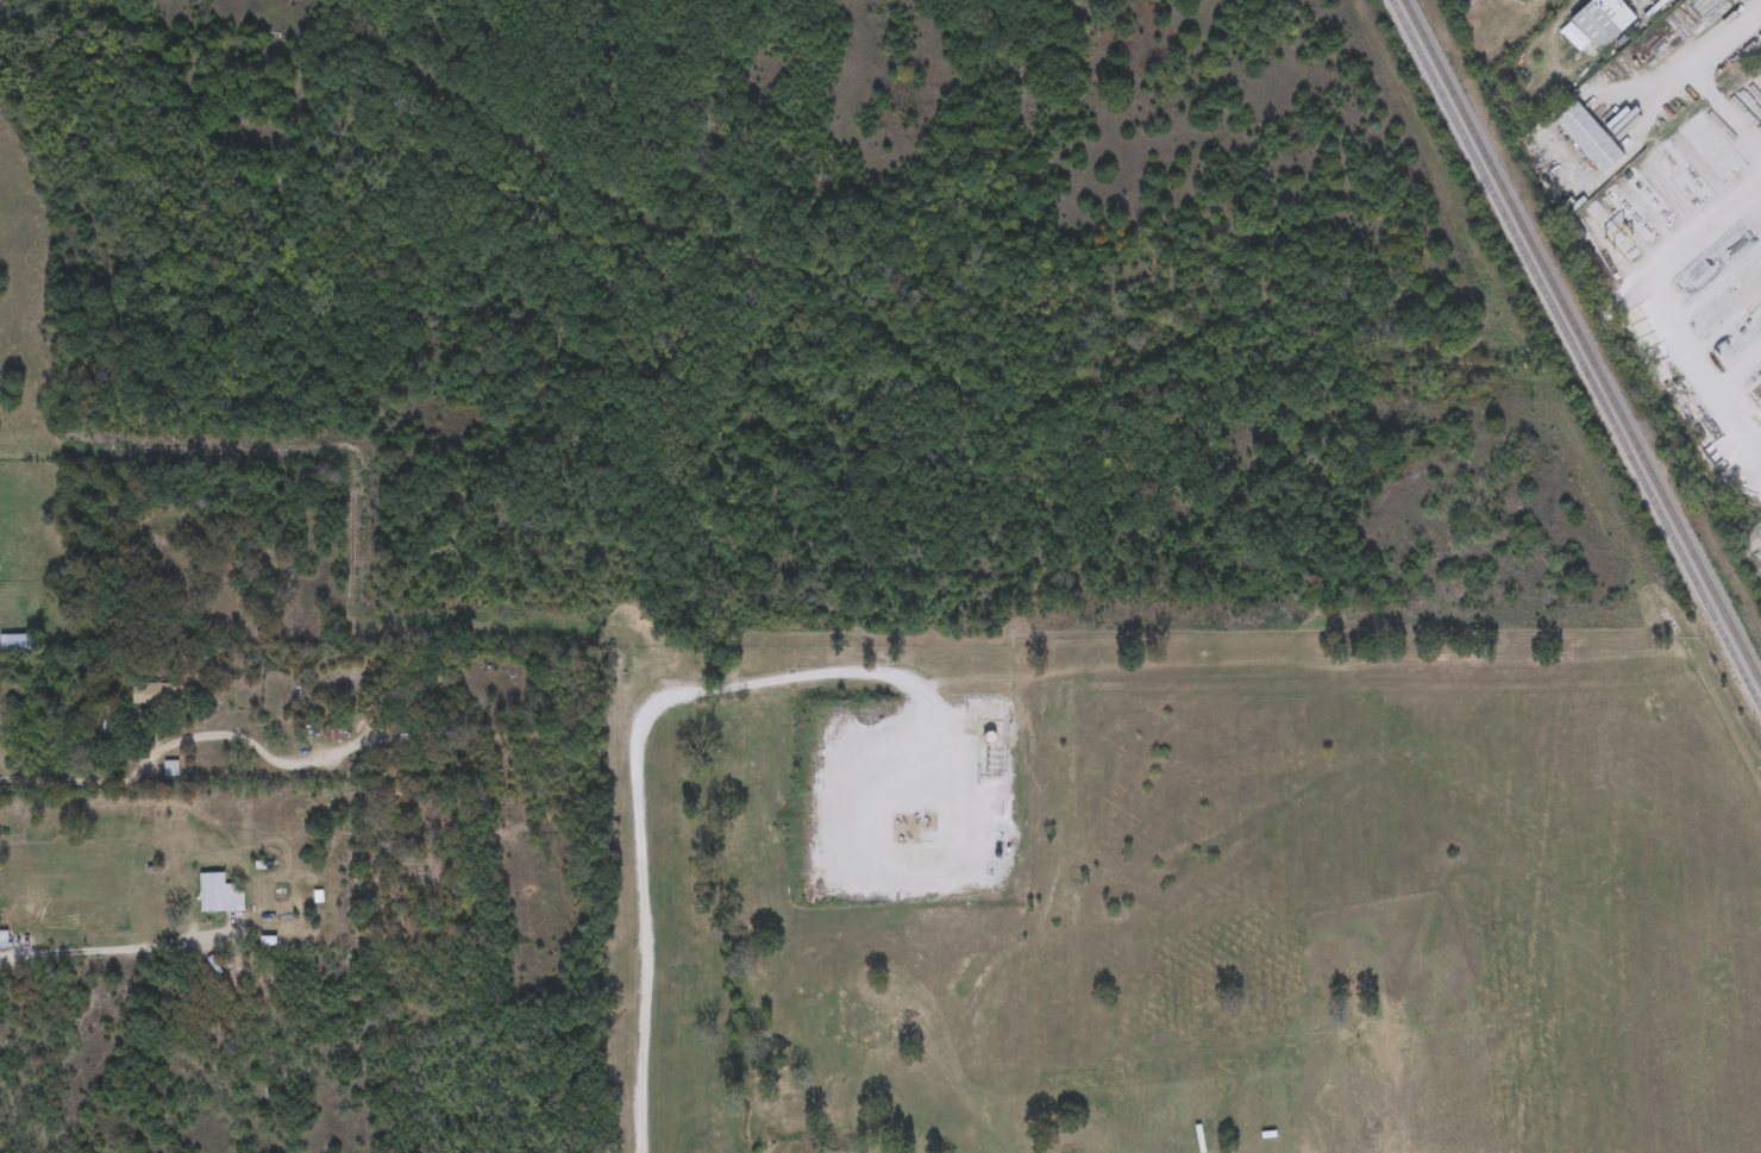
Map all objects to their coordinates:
building: (1604, 21)
road: (1730, 38)
road: (1726, 112)
building: (1590, 138)
railway: (1583, 341)
railway: (1575, 352)
building: (405, 734)
road: (175, 740)
road: (646, 787)
building: (219, 895)
building: (2, 936)
road: (115, 948)
building: (1229, 972)
building: (1515, 1007)
building: (1514, 1033)

